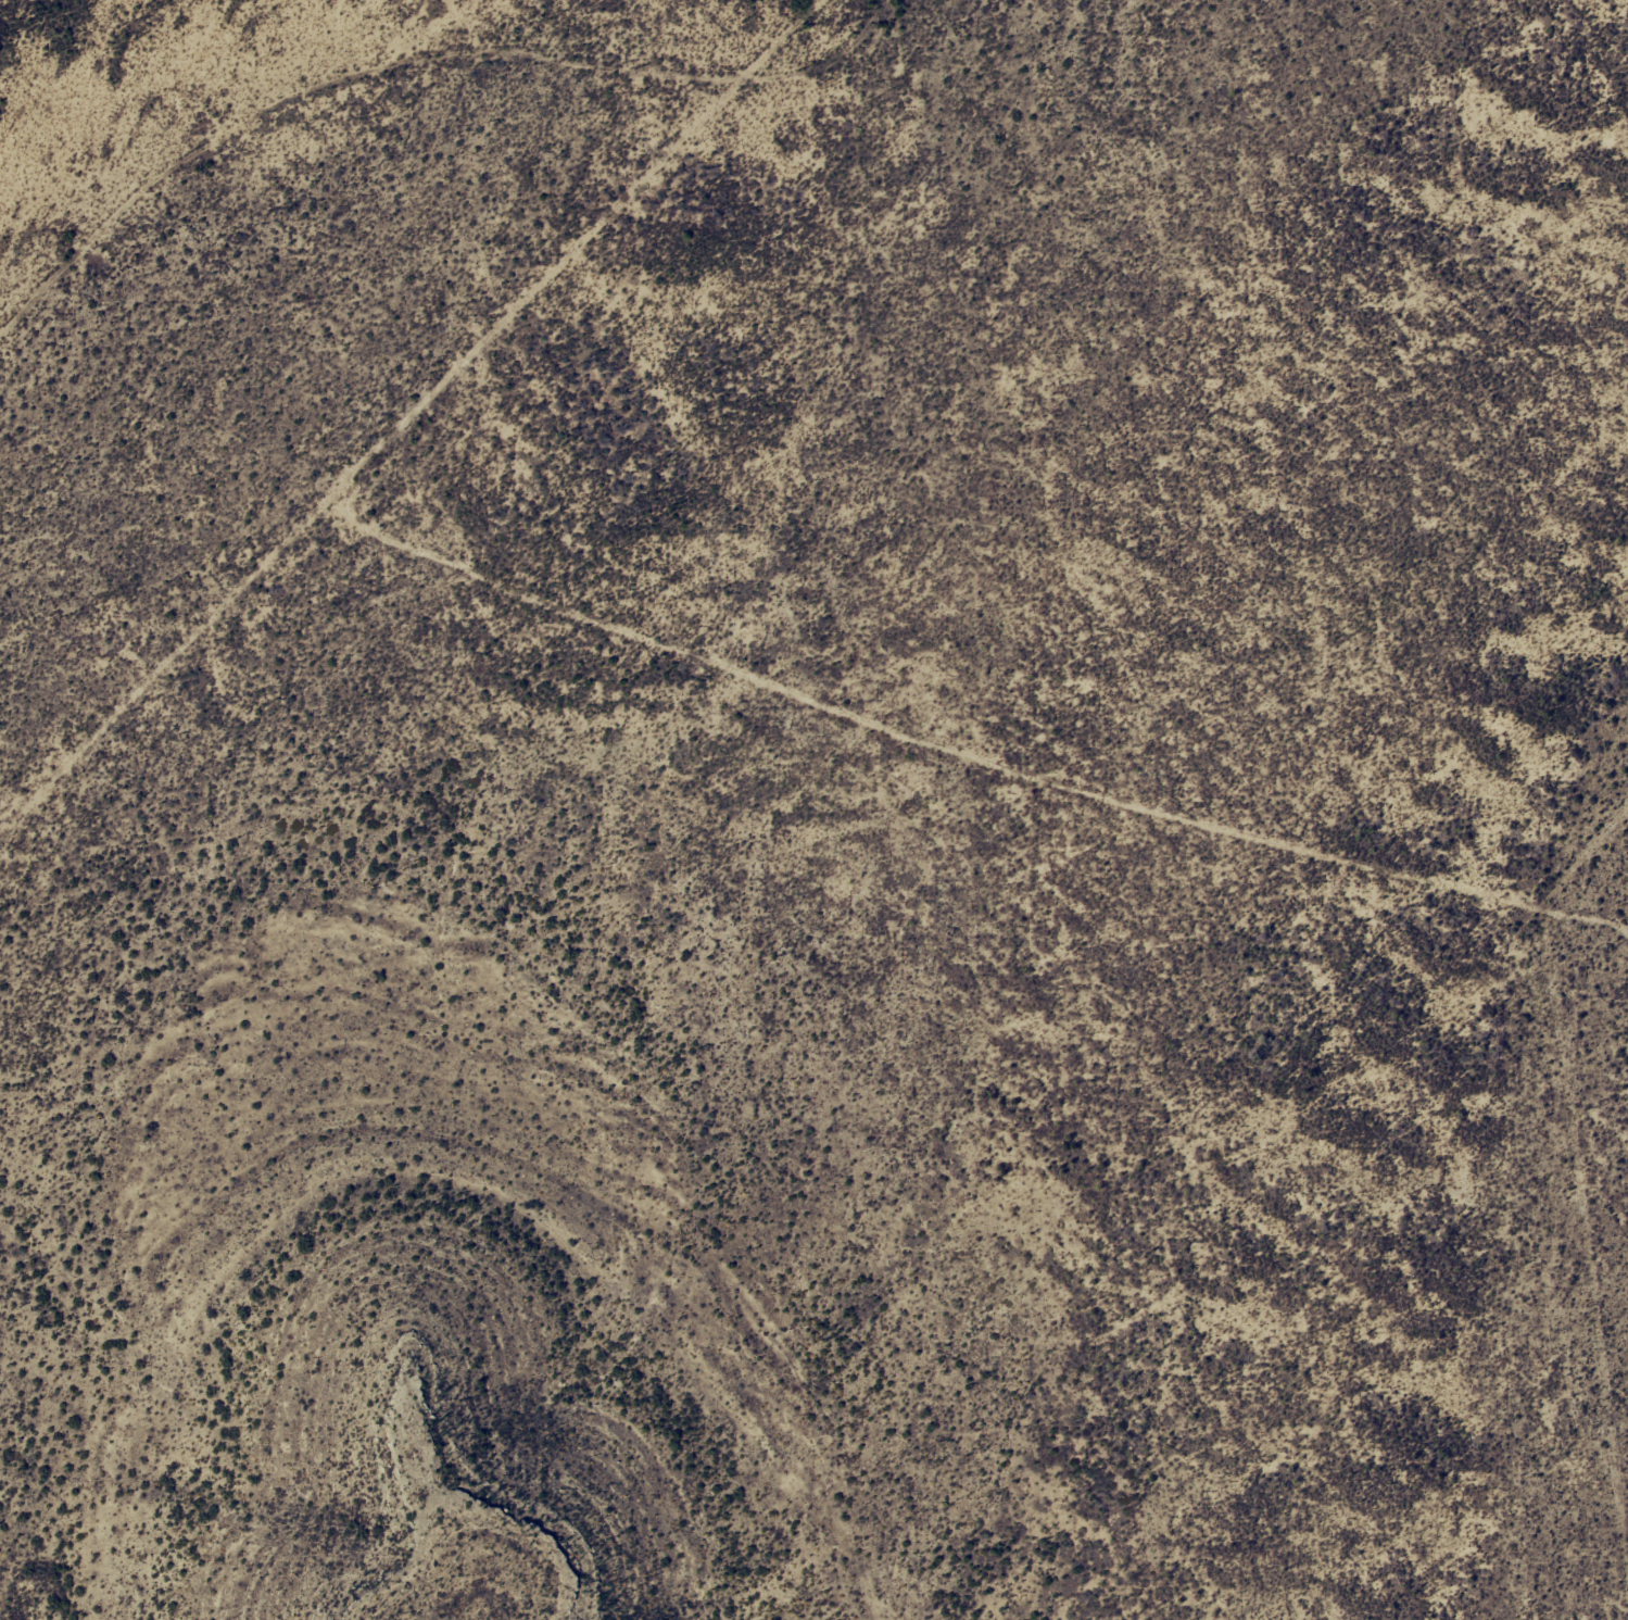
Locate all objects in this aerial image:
road: (412, 78)

